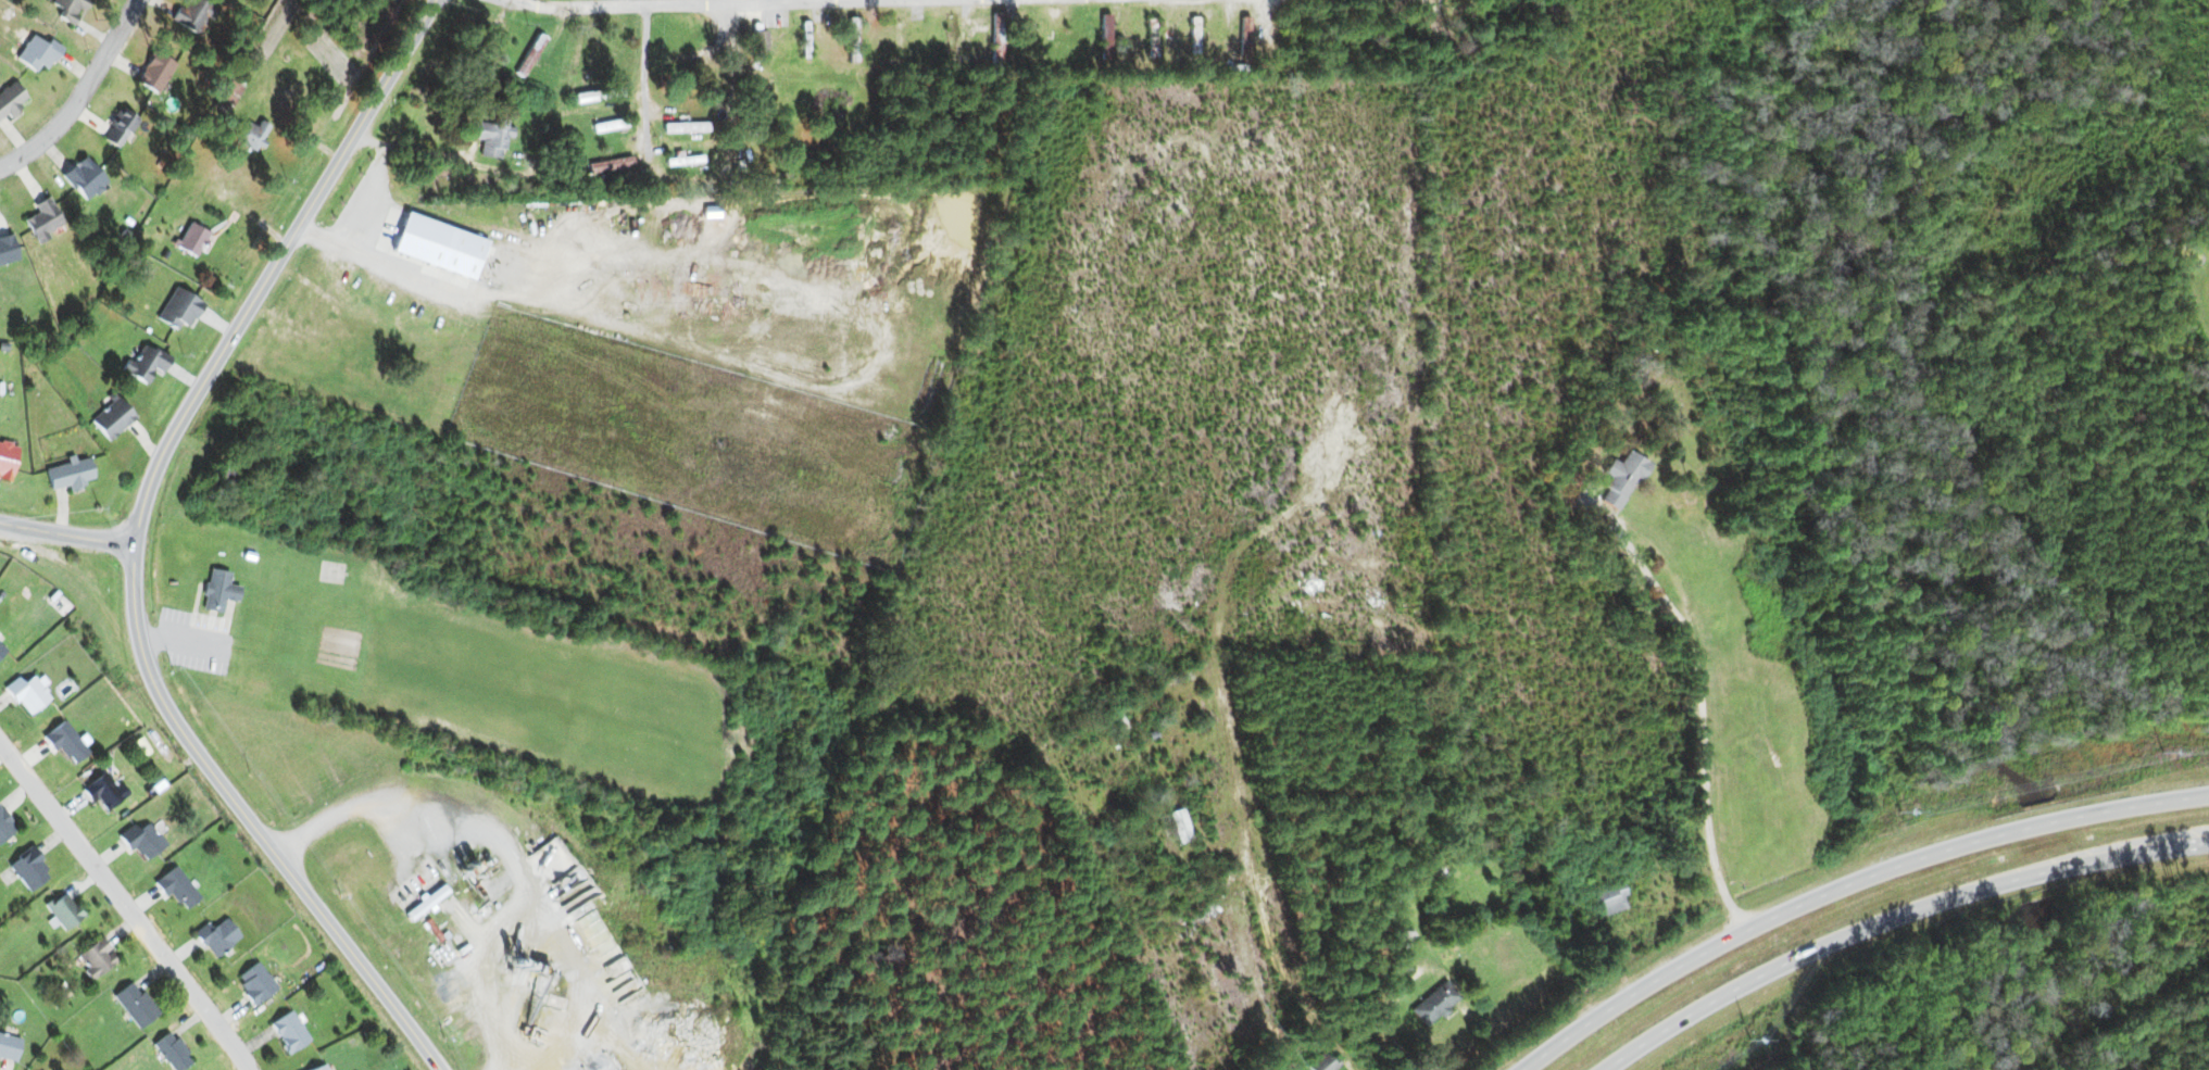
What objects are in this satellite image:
road: (675, 3)
road: (643, 75)
road: (79, 92)
building: (5, 111)
building: (686, 125)
building: (491, 136)
building: (84, 177)
building: (42, 219)
building: (193, 238)
building: (439, 246)
building: (7, 249)
building: (179, 309)
building: (145, 362)
building: (113, 417)
building: (7, 460)
building: (70, 473)
building: (1623, 478)
road: (66, 536)
road: (134, 543)
building: (217, 590)
building: (28, 692)
road: (1703, 719)
building: (65, 741)
building: (104, 791)
building: (1180, 824)
building: (5, 826)
building: (141, 840)
building: (29, 869)
road: (1846, 884)
building: (176, 886)
building: (1611, 898)
building: (426, 903)
road: (126, 905)
building: (64, 910)
road: (1884, 914)
building: (216, 936)
building: (97, 958)
building: (255, 982)
building: (1435, 1003)
building: (136, 1004)
road: (1391, 1012)
building: (289, 1031)
building: (9, 1046)
building: (173, 1052)
building: (318, 1067)

